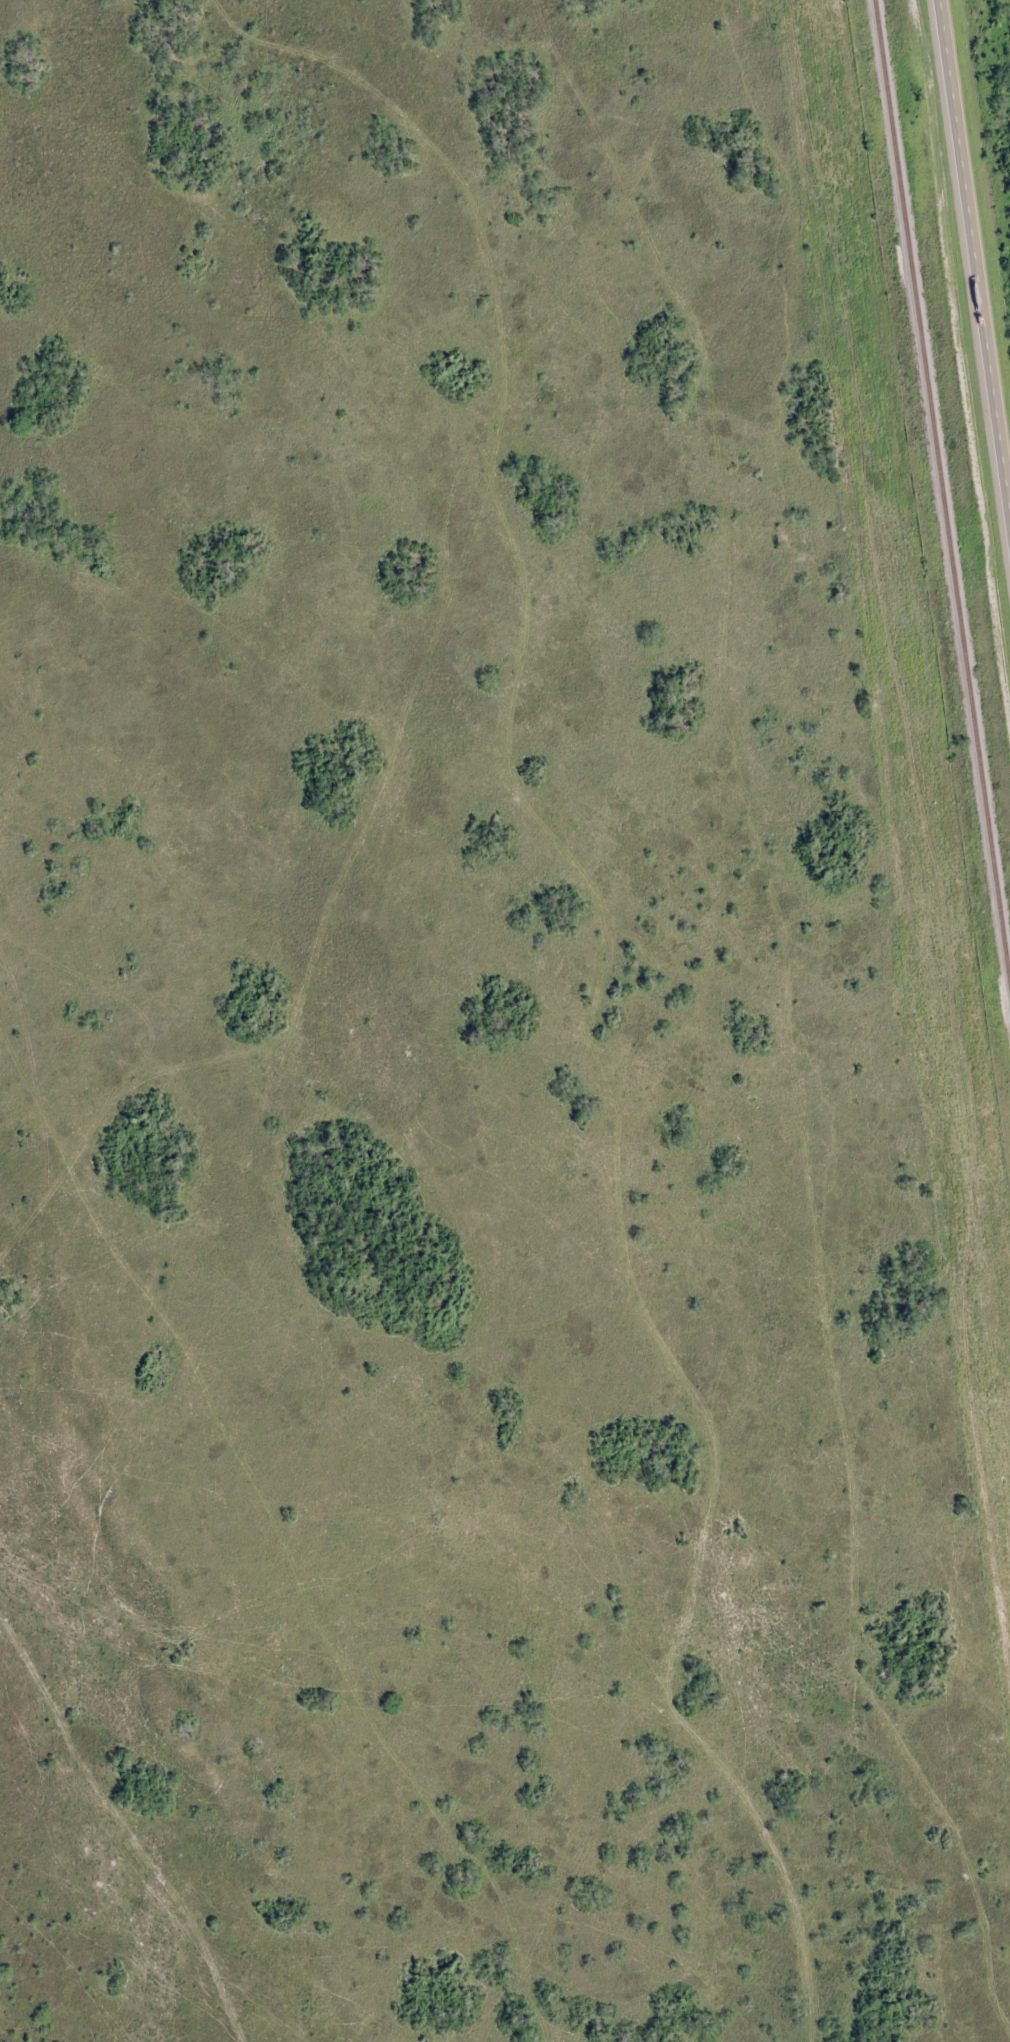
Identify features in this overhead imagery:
road: (978, 221)
railway: (944, 475)

